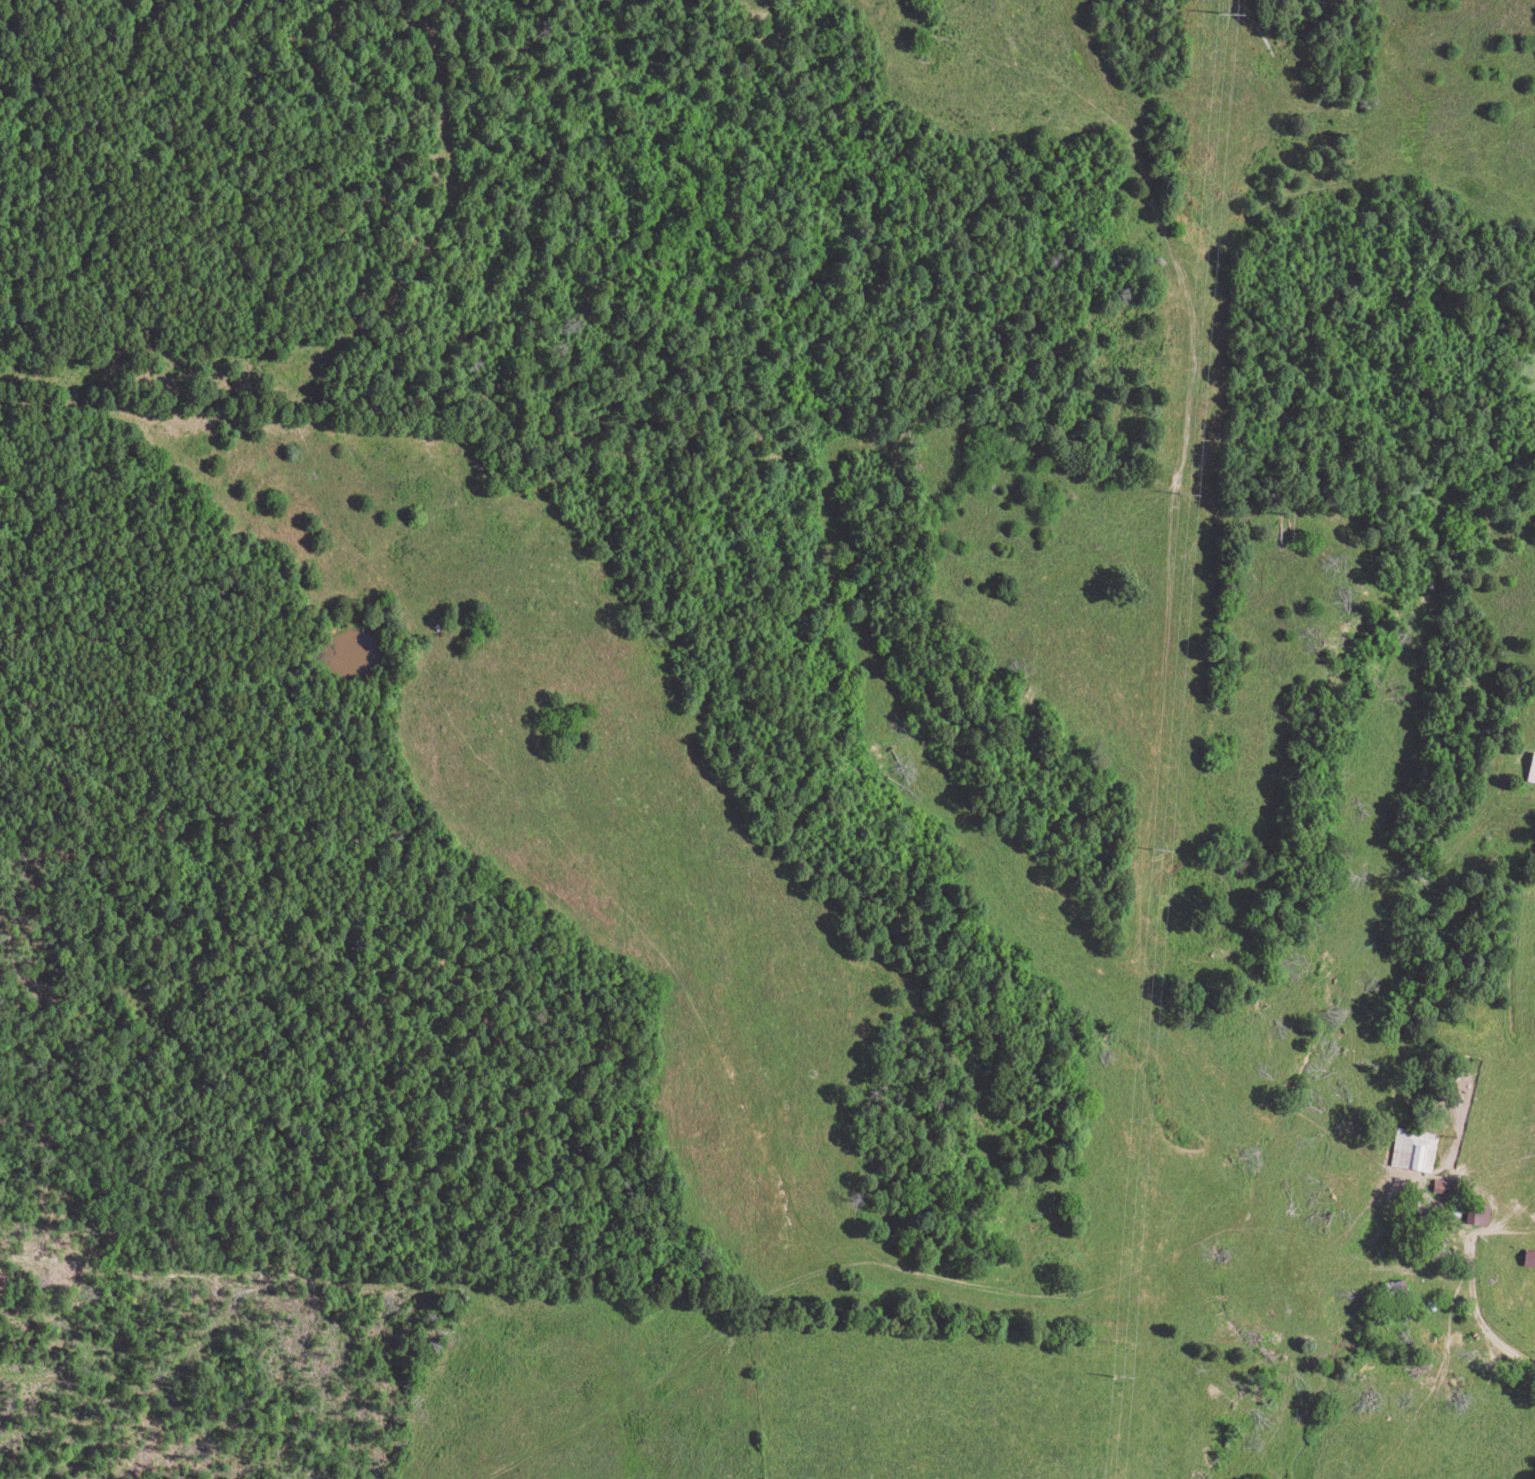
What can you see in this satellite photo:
building: (1529, 768)
building: (1410, 1151)
building: (1478, 1215)
road: (1489, 1334)

